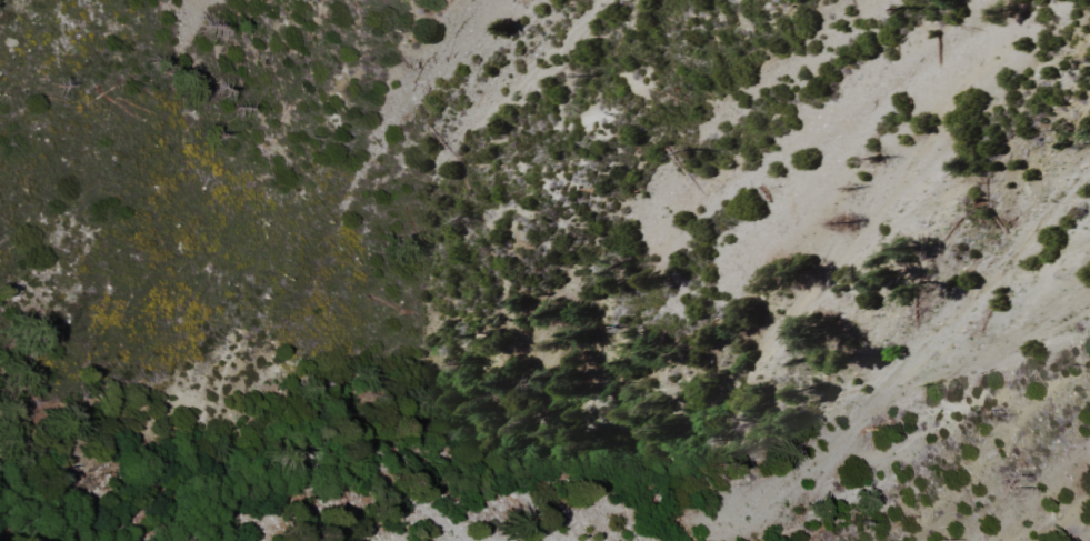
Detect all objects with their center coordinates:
road: (1078, 16)
road: (149, 459)

